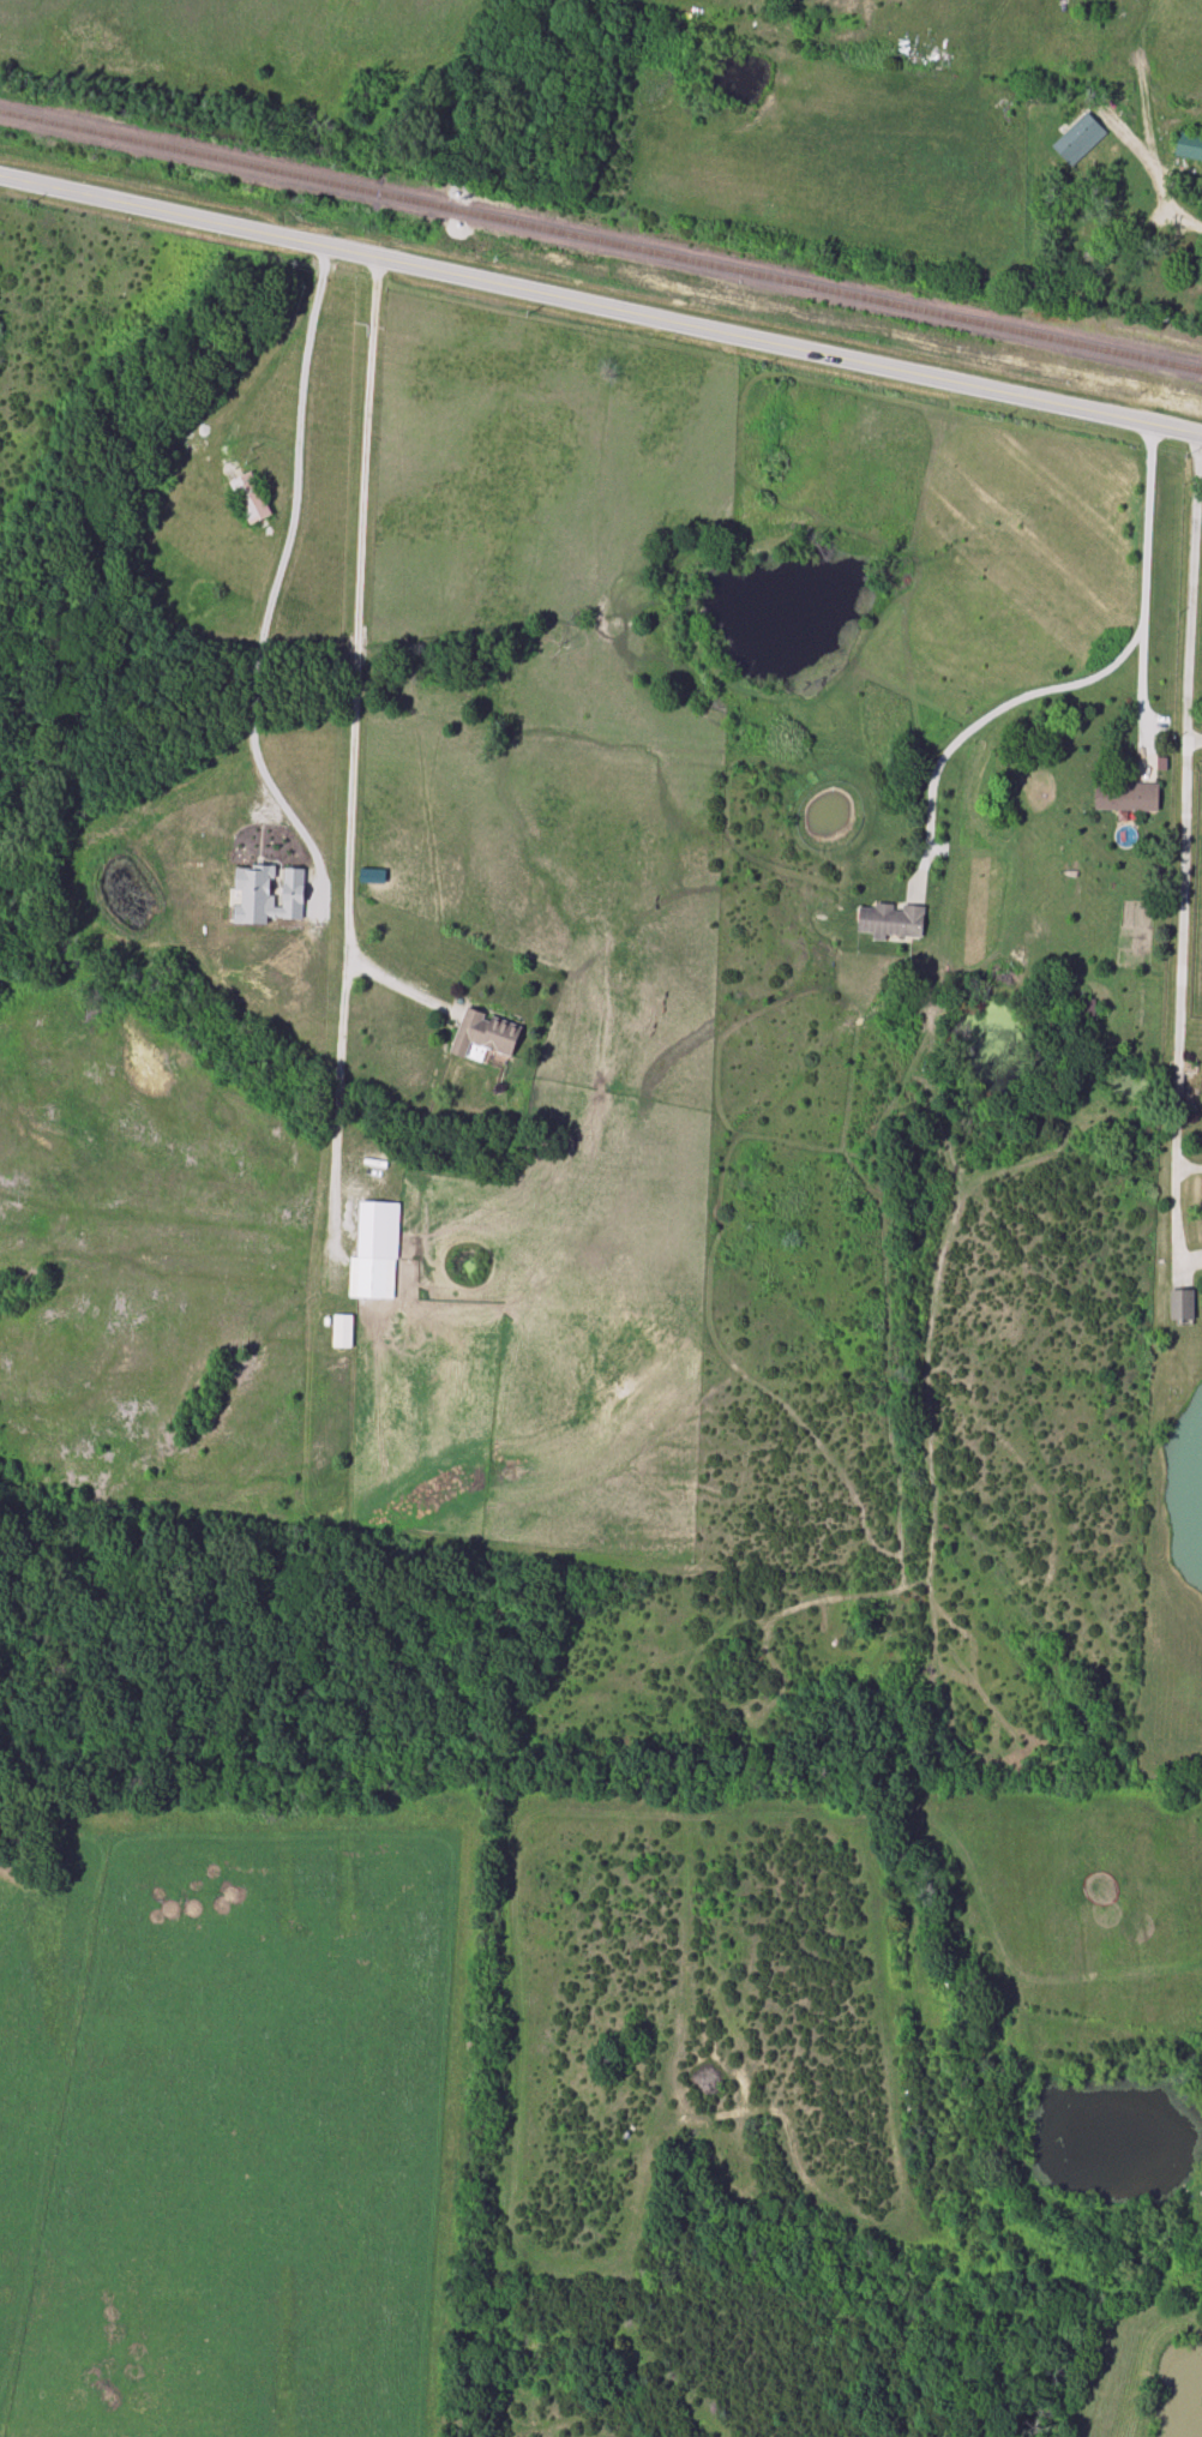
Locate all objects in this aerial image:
building: (1189, 148)
road: (1159, 182)
building: (1126, 205)
railway: (600, 241)
road: (601, 310)
building: (248, 499)
road: (278, 574)
road: (1089, 679)
road: (1141, 690)
road: (353, 737)
building: (1125, 797)
road: (976, 806)
road: (1183, 811)
building: (1069, 880)
building: (890, 922)
road: (399, 989)
building: (1086, 1009)
building: (482, 1036)
road: (1171, 1217)
building: (374, 1253)
building: (1180, 1304)
building: (342, 1332)

